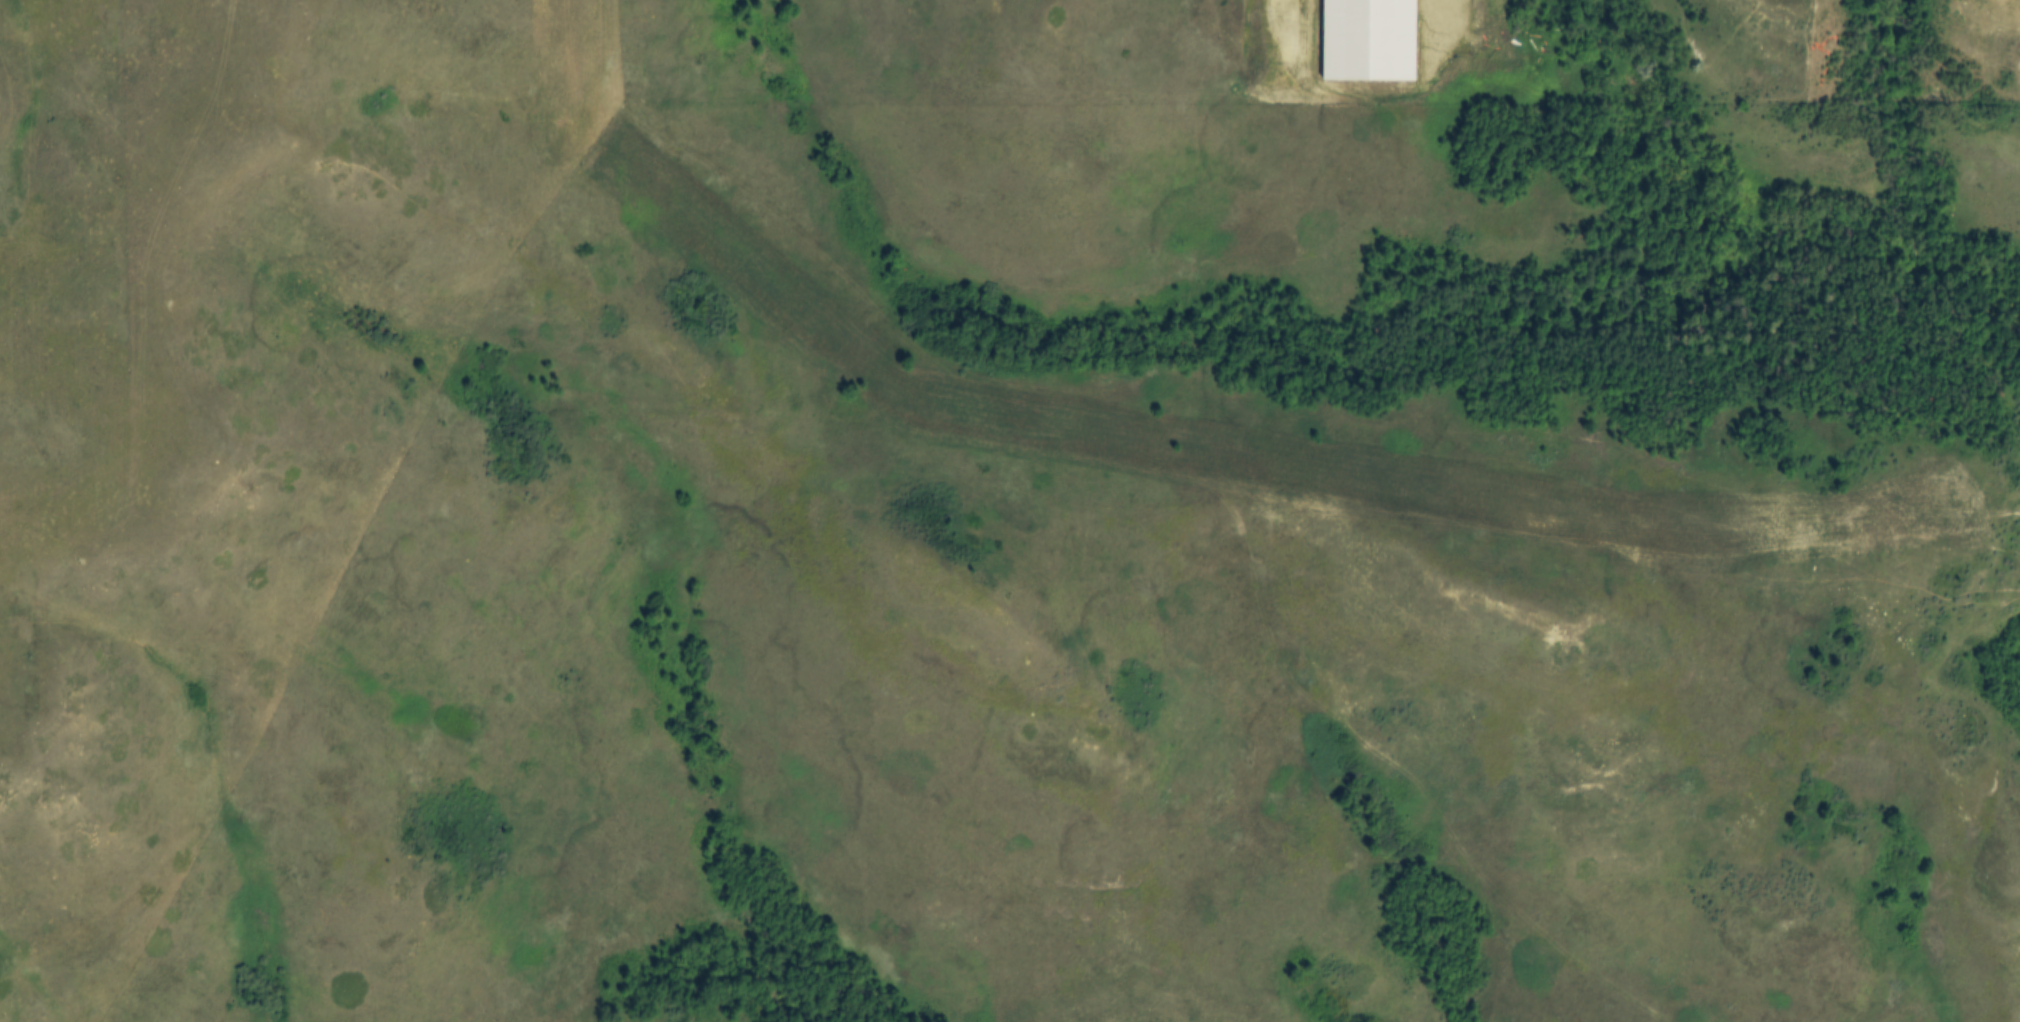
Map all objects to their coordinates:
road: (152, 303)

